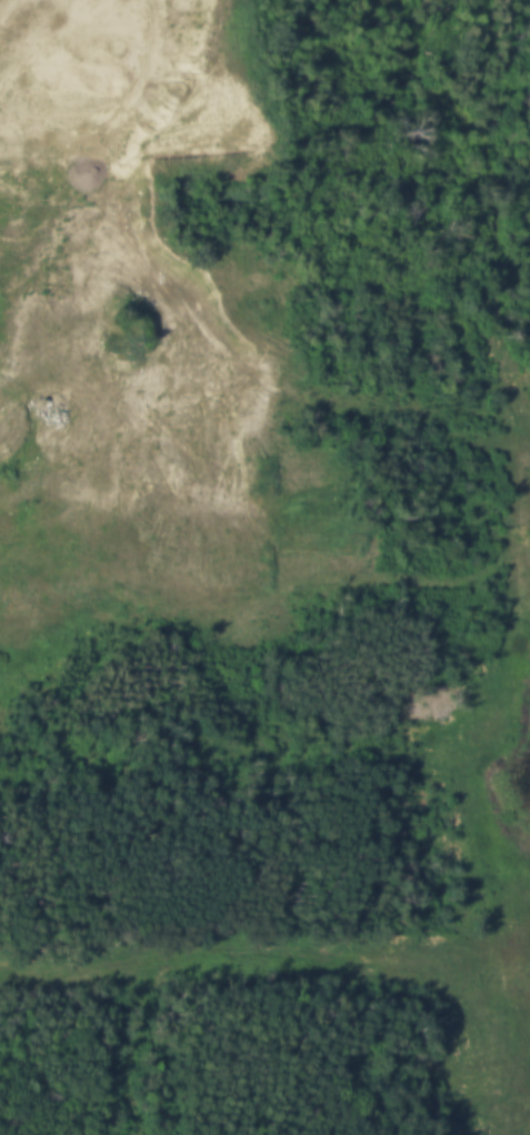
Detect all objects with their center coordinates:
quarry: (106, 315)

